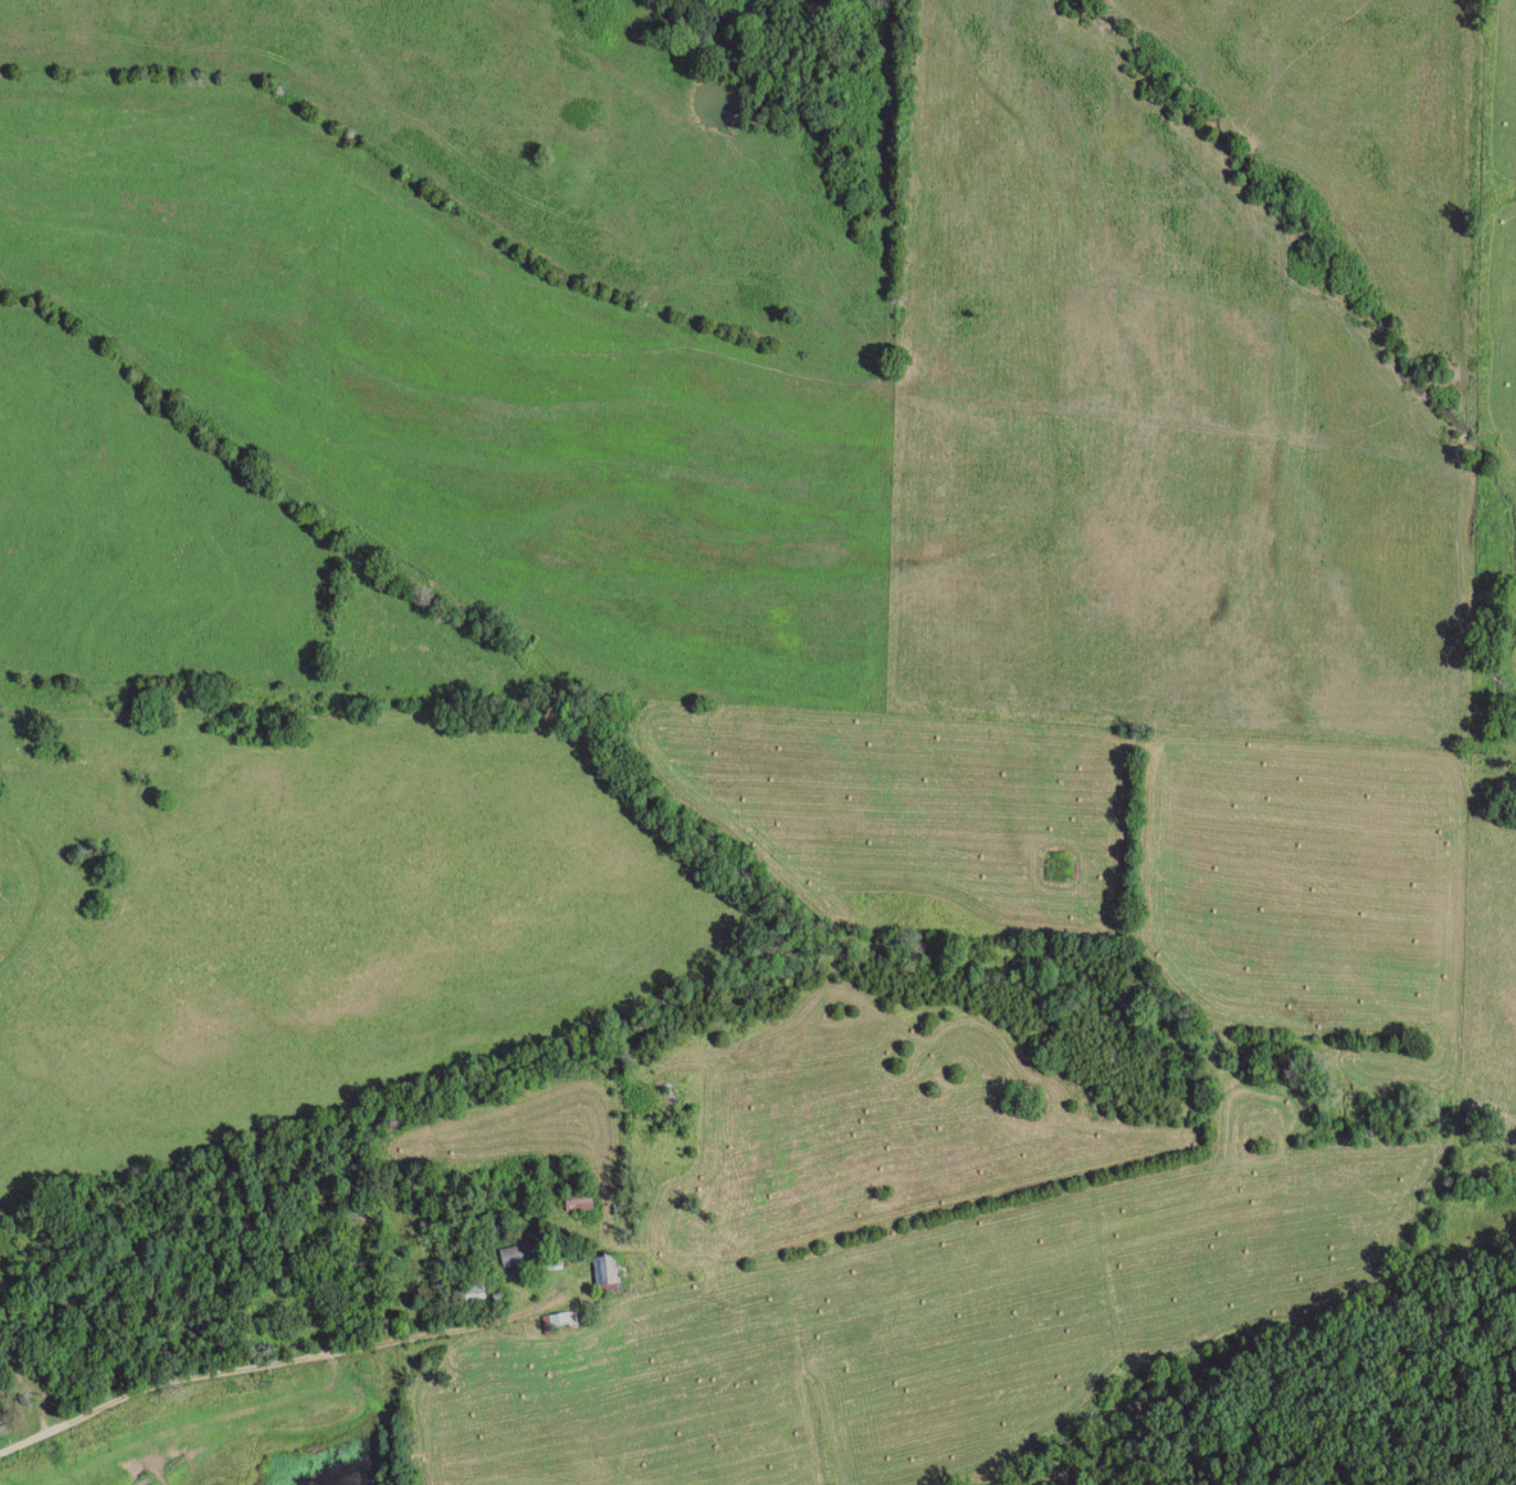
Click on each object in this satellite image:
building: (582, 1202)
building: (521, 1255)
building: (611, 1275)
building: (476, 1290)
building: (562, 1322)
road: (256, 1364)
park: (7, 1417)

